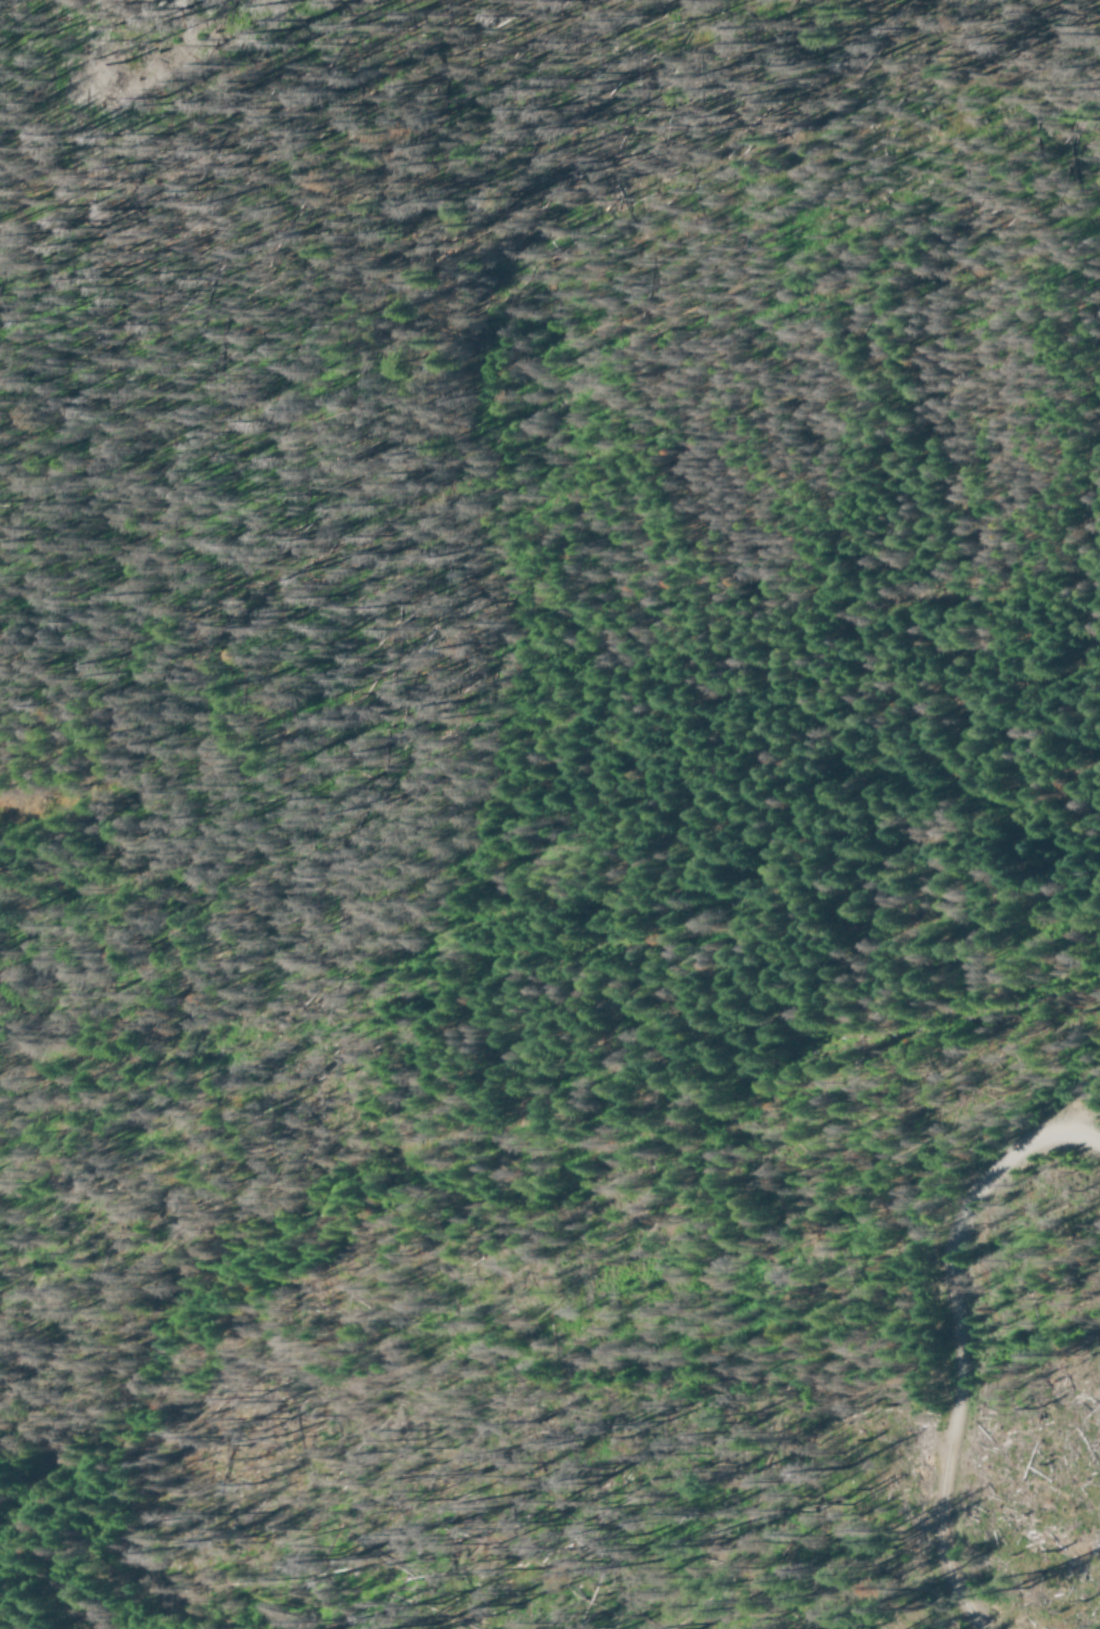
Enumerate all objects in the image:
road: (983, 1337)

